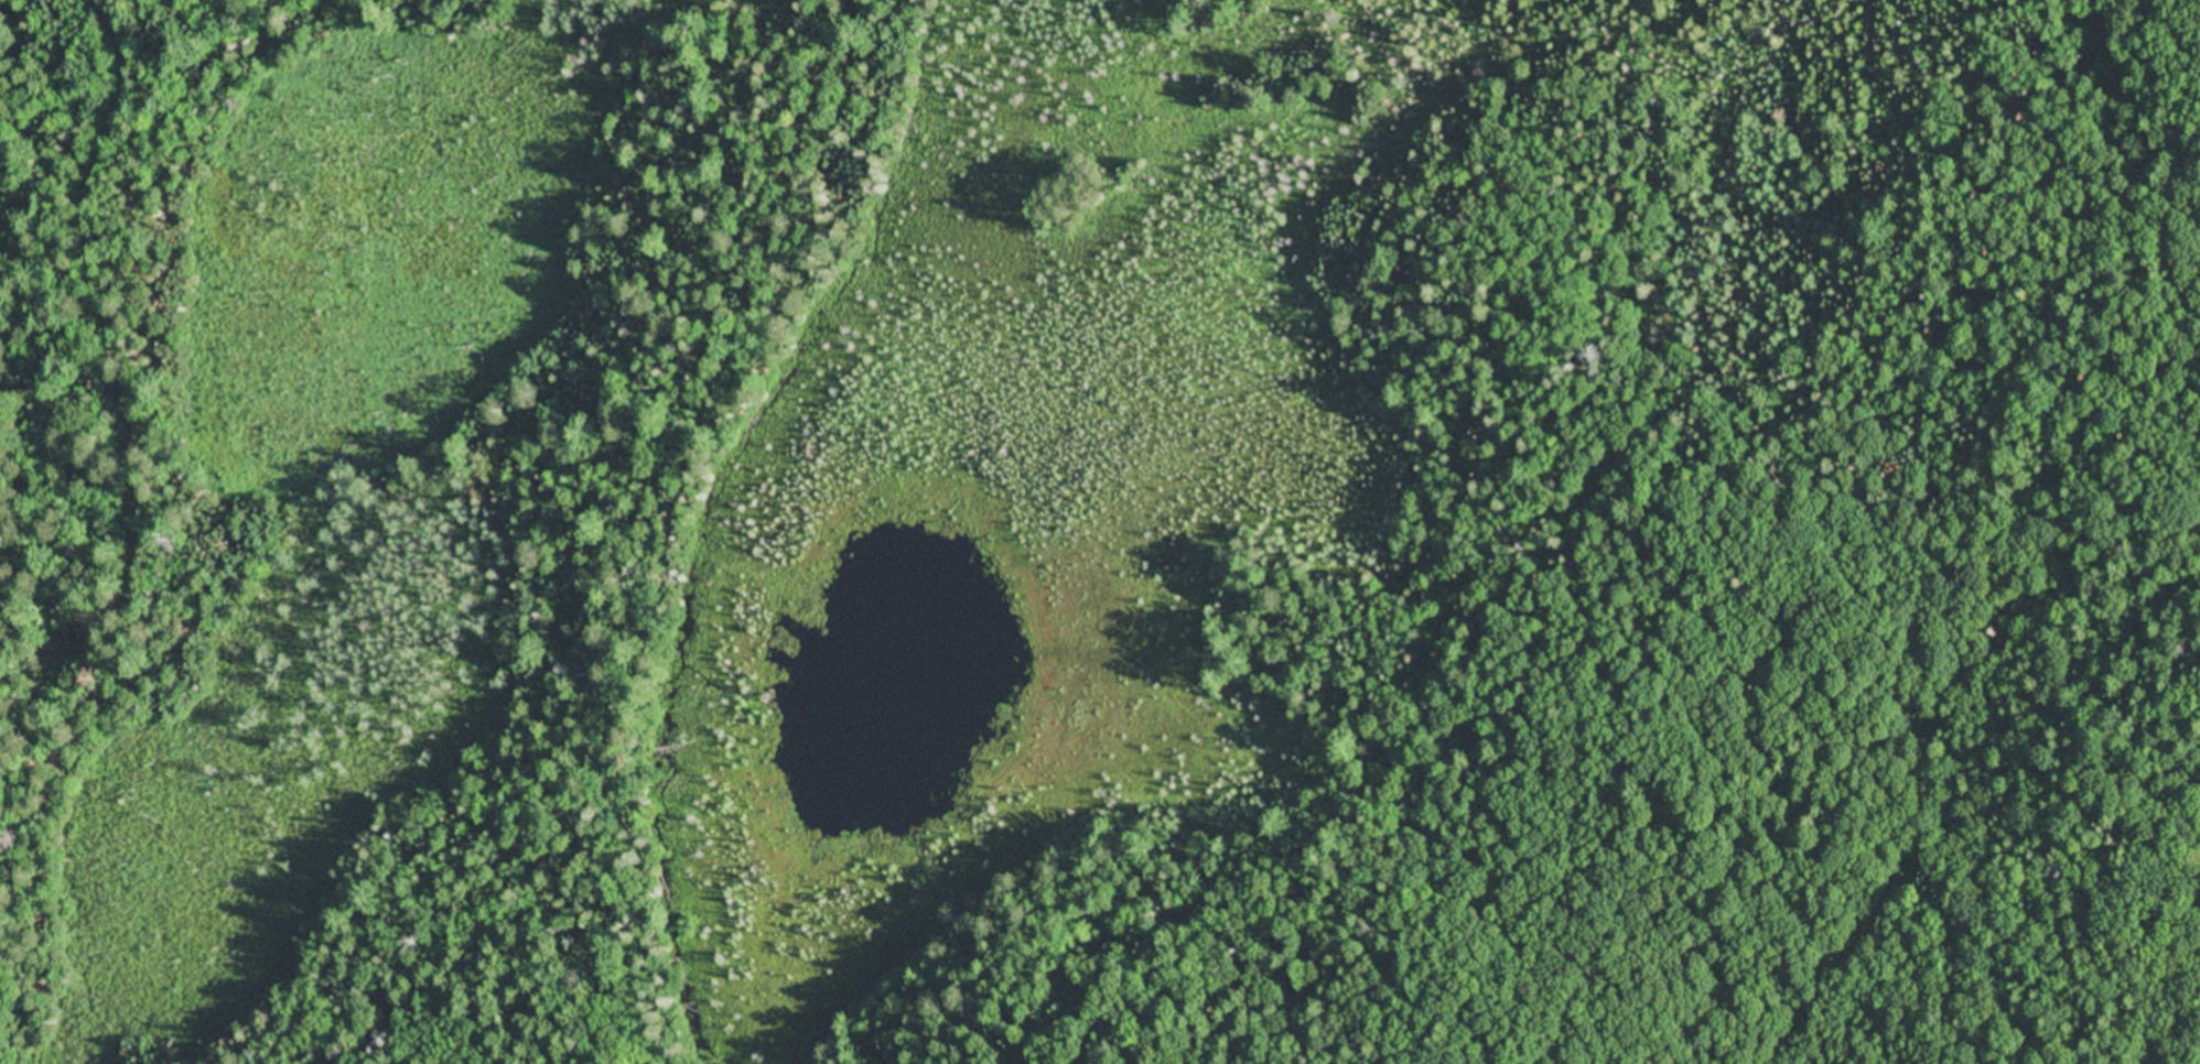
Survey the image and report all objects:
road: (670, 523)

